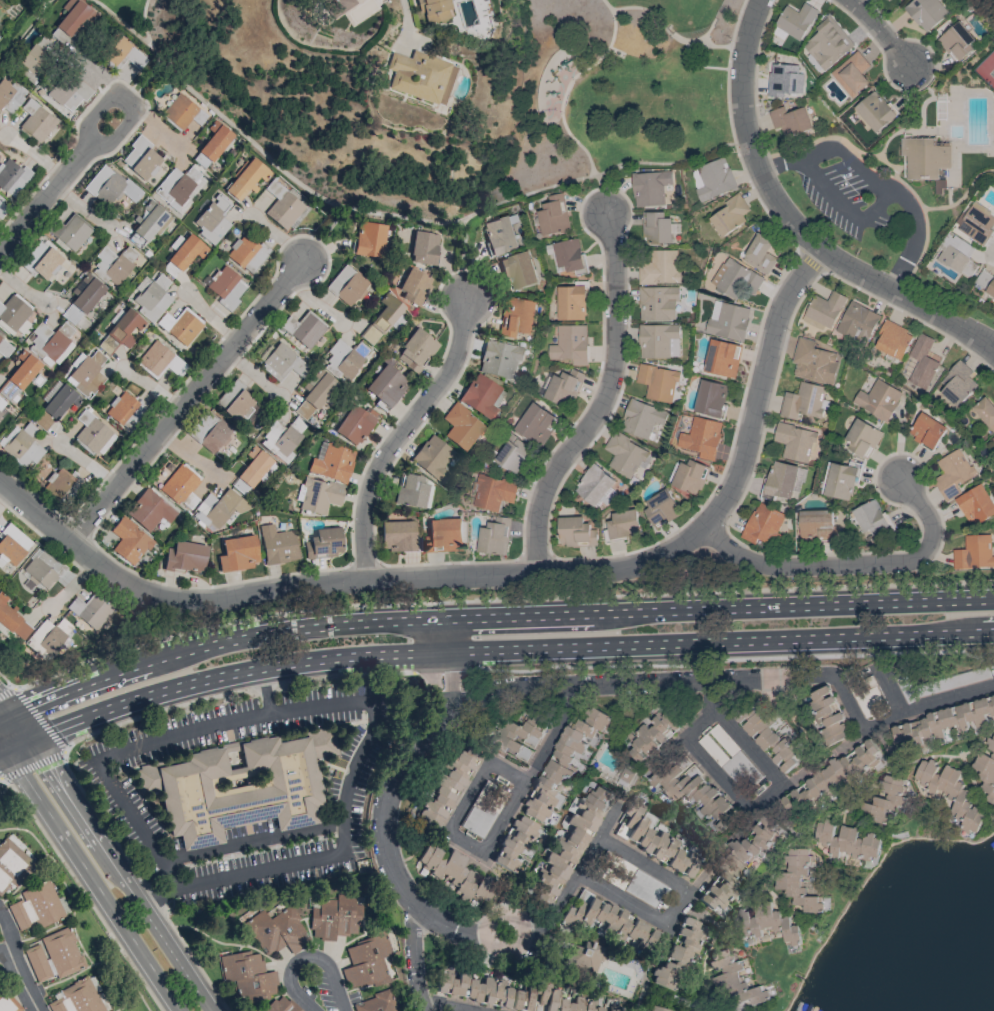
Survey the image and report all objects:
road: (42, 3)
road: (49, 3)
building: (339, 5)
building: (435, 10)
road: (405, 13)
building: (925, 13)
building: (70, 20)
building: (795, 20)
road: (144, 22)
road: (882, 30)
road: (23, 34)
road: (674, 35)
building: (956, 41)
building: (826, 44)
building: (123, 53)
building: (36, 57)
road: (697, 65)
building: (851, 74)
building: (420, 76)
building: (784, 80)
road: (144, 85)
park: (614, 87)
building: (69, 91)
building: (10, 95)
road: (931, 97)
road: (563, 100)
building: (875, 111)
building: (183, 112)
building: (36, 121)
building: (790, 121)
building: (212, 144)
building: (141, 158)
building: (926, 160)
building: (12, 177)
building: (246, 178)
building: (714, 179)
road: (62, 183)
road: (878, 183)
building: (110, 185)
building: (178, 186)
building: (649, 188)
parking lot: (847, 191)
road: (958, 197)
building: (282, 205)
building: (2, 208)
road: (844, 209)
road: (388, 215)
building: (729, 215)
building: (552, 216)
building: (213, 219)
building: (148, 220)
road: (792, 222)
building: (975, 223)
building: (657, 228)
road: (777, 228)
building: (70, 232)
road: (324, 235)
building: (500, 235)
building: (369, 239)
building: (424, 248)
building: (185, 250)
road: (2, 251)
building: (247, 252)
building: (760, 254)
building: (42, 260)
road: (462, 261)
building: (112, 265)
building: (659, 267)
building: (519, 271)
building: (736, 279)
building: (985, 282)
building: (347, 285)
building: (414, 285)
building: (226, 287)
building: (86, 292)
building: (151, 296)
building: (571, 303)
building: (657, 303)
building: (823, 311)
building: (14, 314)
building: (517, 316)
building: (75, 318)
building: (382, 319)
building: (728, 320)
building: (857, 322)
building: (181, 325)
building: (303, 330)
building: (119, 331)
building: (892, 340)
building: (50, 341)
building: (658, 341)
building: (569, 345)
building: (4, 347)
building: (416, 350)
building: (344, 358)
building: (500, 358)
building: (722, 358)
building: (161, 360)
building: (813, 362)
building: (283, 363)
building: (919, 363)
building: (87, 374)
building: (19, 376)
building: (657, 382)
building: (386, 385)
building: (957, 385)
building: (564, 388)
building: (315, 393)
building: (482, 396)
building: (710, 398)
building: (878, 400)
road: (186, 401)
road: (604, 401)
building: (802, 401)
building: (236, 402)
building: (1, 403)
building: (54, 404)
building: (127, 411)
building: (0, 412)
building: (985, 412)
building: (641, 419)
building: (356, 424)
building: (535, 424)
building: (462, 427)
building: (927, 431)
building: (211, 432)
building: (93, 433)
road: (401, 434)
building: (993, 436)
building: (282, 438)
building: (701, 438)
building: (862, 439)
building: (795, 442)
building: (21, 445)
building: (512, 454)
building: (624, 455)
building: (433, 458)
building: (333, 463)
road: (87, 464)
building: (251, 470)
building: (952, 473)
building: (687, 476)
building: (841, 481)
building: (57, 482)
building: (180, 485)
building: (594, 485)
building: (76, 486)
building: (411, 490)
building: (492, 492)
building: (318, 495)
building: (976, 505)
building: (221, 508)
building: (660, 508)
building: (149, 510)
building: (870, 518)
building: (622, 526)
building: (763, 526)
building: (817, 526)
building: (575, 532)
building: (397, 535)
building: (444, 535)
building: (493, 537)
building: (129, 541)
building: (323, 543)
building: (12, 545)
building: (277, 545)
building: (238, 553)
building: (974, 553)
building: (186, 556)
road: (852, 565)
building: (43, 569)
road: (493, 574)
road: (488, 600)
road: (717, 610)
building: (91, 611)
building: (12, 620)
road: (441, 635)
building: (49, 638)
road: (718, 640)
road: (220, 643)
road: (229, 671)
road: (367, 673)
road: (441, 678)
building: (940, 683)
road: (266, 689)
road: (7, 692)
road: (891, 692)
building: (864, 693)
road: (850, 704)
road: (326, 706)
road: (5, 708)
traffic signals: (11, 715)
building: (826, 715)
road: (5, 717)
road: (38, 719)
building: (941, 723)
road: (19, 726)
road: (732, 727)
road: (181, 733)
road: (552, 734)
building: (652, 735)
building: (519, 737)
traffic signals: (27, 738)
road: (685, 738)
building: (768, 740)
road: (15, 743)
road: (1, 747)
road: (1, 749)
traffic signals: (3, 749)
building: (563, 761)
building: (731, 761)
road: (32, 765)
building: (985, 773)
road: (718, 775)
road: (1, 776)
building: (829, 779)
building: (239, 784)
building: (446, 788)
building: (947, 793)
building: (693, 794)
building: (886, 798)
road: (385, 801)
building: (482, 811)
building: (514, 841)
road: (150, 842)
building: (653, 842)
building: (846, 843)
building: (568, 846)
road: (481, 847)
road: (342, 852)
building: (13, 864)
road: (644, 865)
building: (736, 866)
road: (119, 874)
building: (455, 874)
road: (577, 876)
building: (627, 878)
road: (91, 879)
road: (23, 881)
building: (798, 881)
road: (692, 887)
road: (82, 892)
road: (624, 899)
building: (37, 906)
road: (505, 913)
building: (334, 917)
road: (73, 918)
building: (607, 922)
building: (769, 924)
road: (448, 926)
road: (44, 931)
building: (276, 931)
road: (11, 935)
building: (676, 954)
building: (54, 955)
road: (308, 956)
building: (583, 957)
road: (414, 958)
building: (366, 962)
road: (8, 975)
building: (248, 975)
road: (61, 980)
building: (734, 981)
road: (22, 982)
building: (483, 991)
building: (78, 997)
building: (564, 1001)
building: (7, 1002)
road: (127, 1003)
building: (375, 1003)
building: (280, 1004)
road: (444, 1007)
building: (653, 1008)

